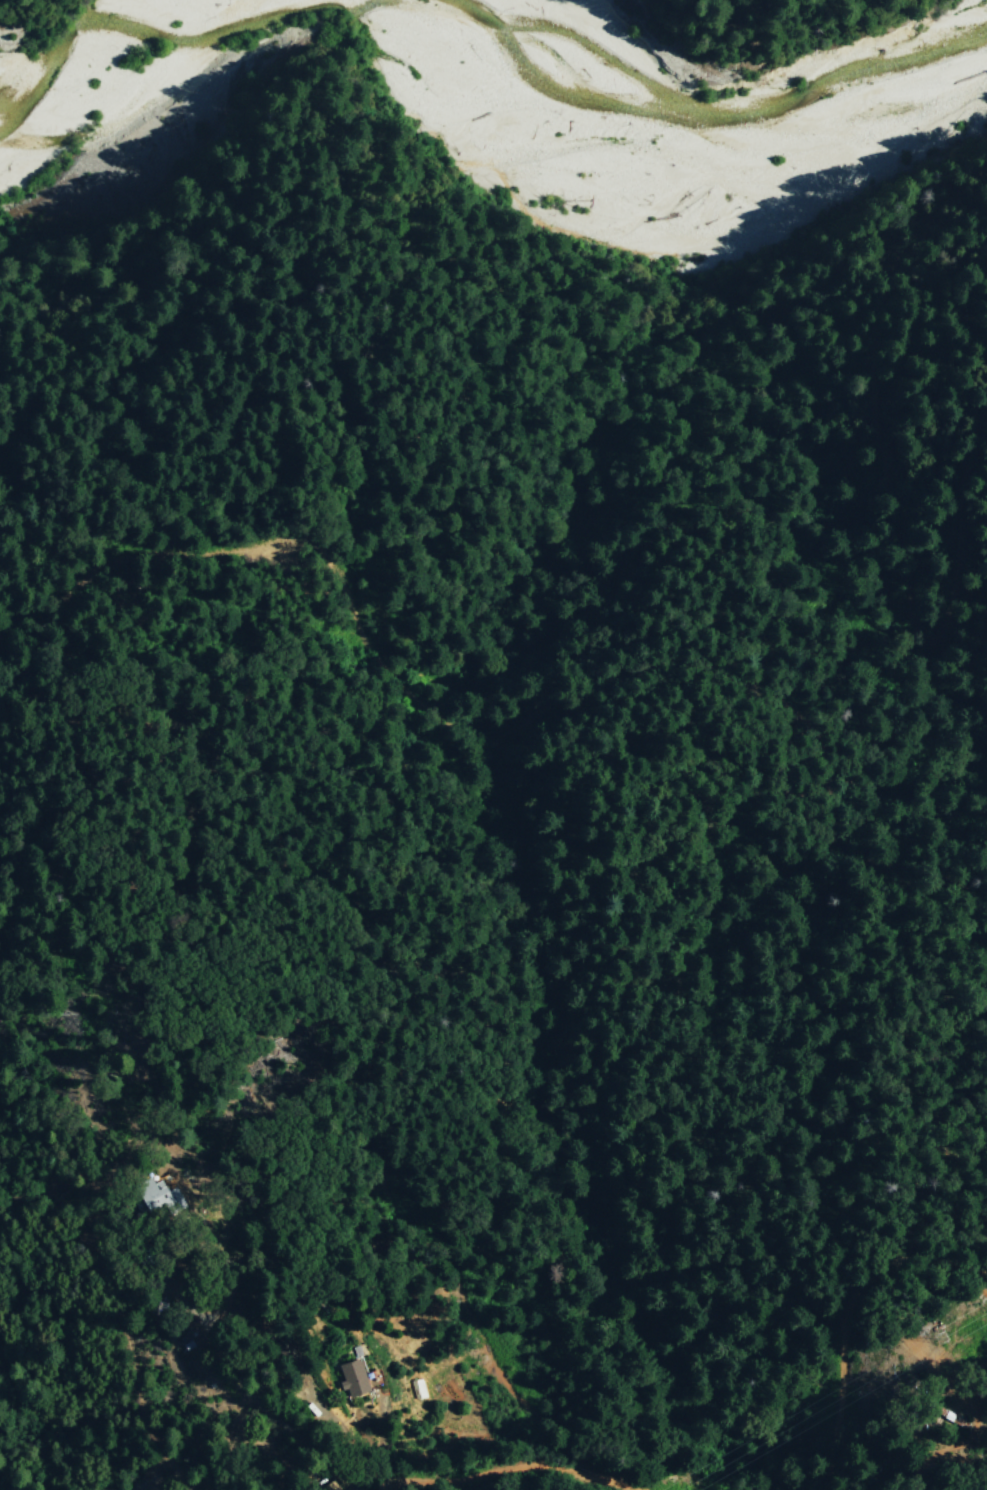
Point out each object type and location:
river: (71, 58)
river: (653, 105)
road: (487, 801)
building: (164, 1192)
power tower: (944, 1343)
building: (353, 1377)
building: (374, 1378)
road: (243, 1381)
road: (378, 1442)

